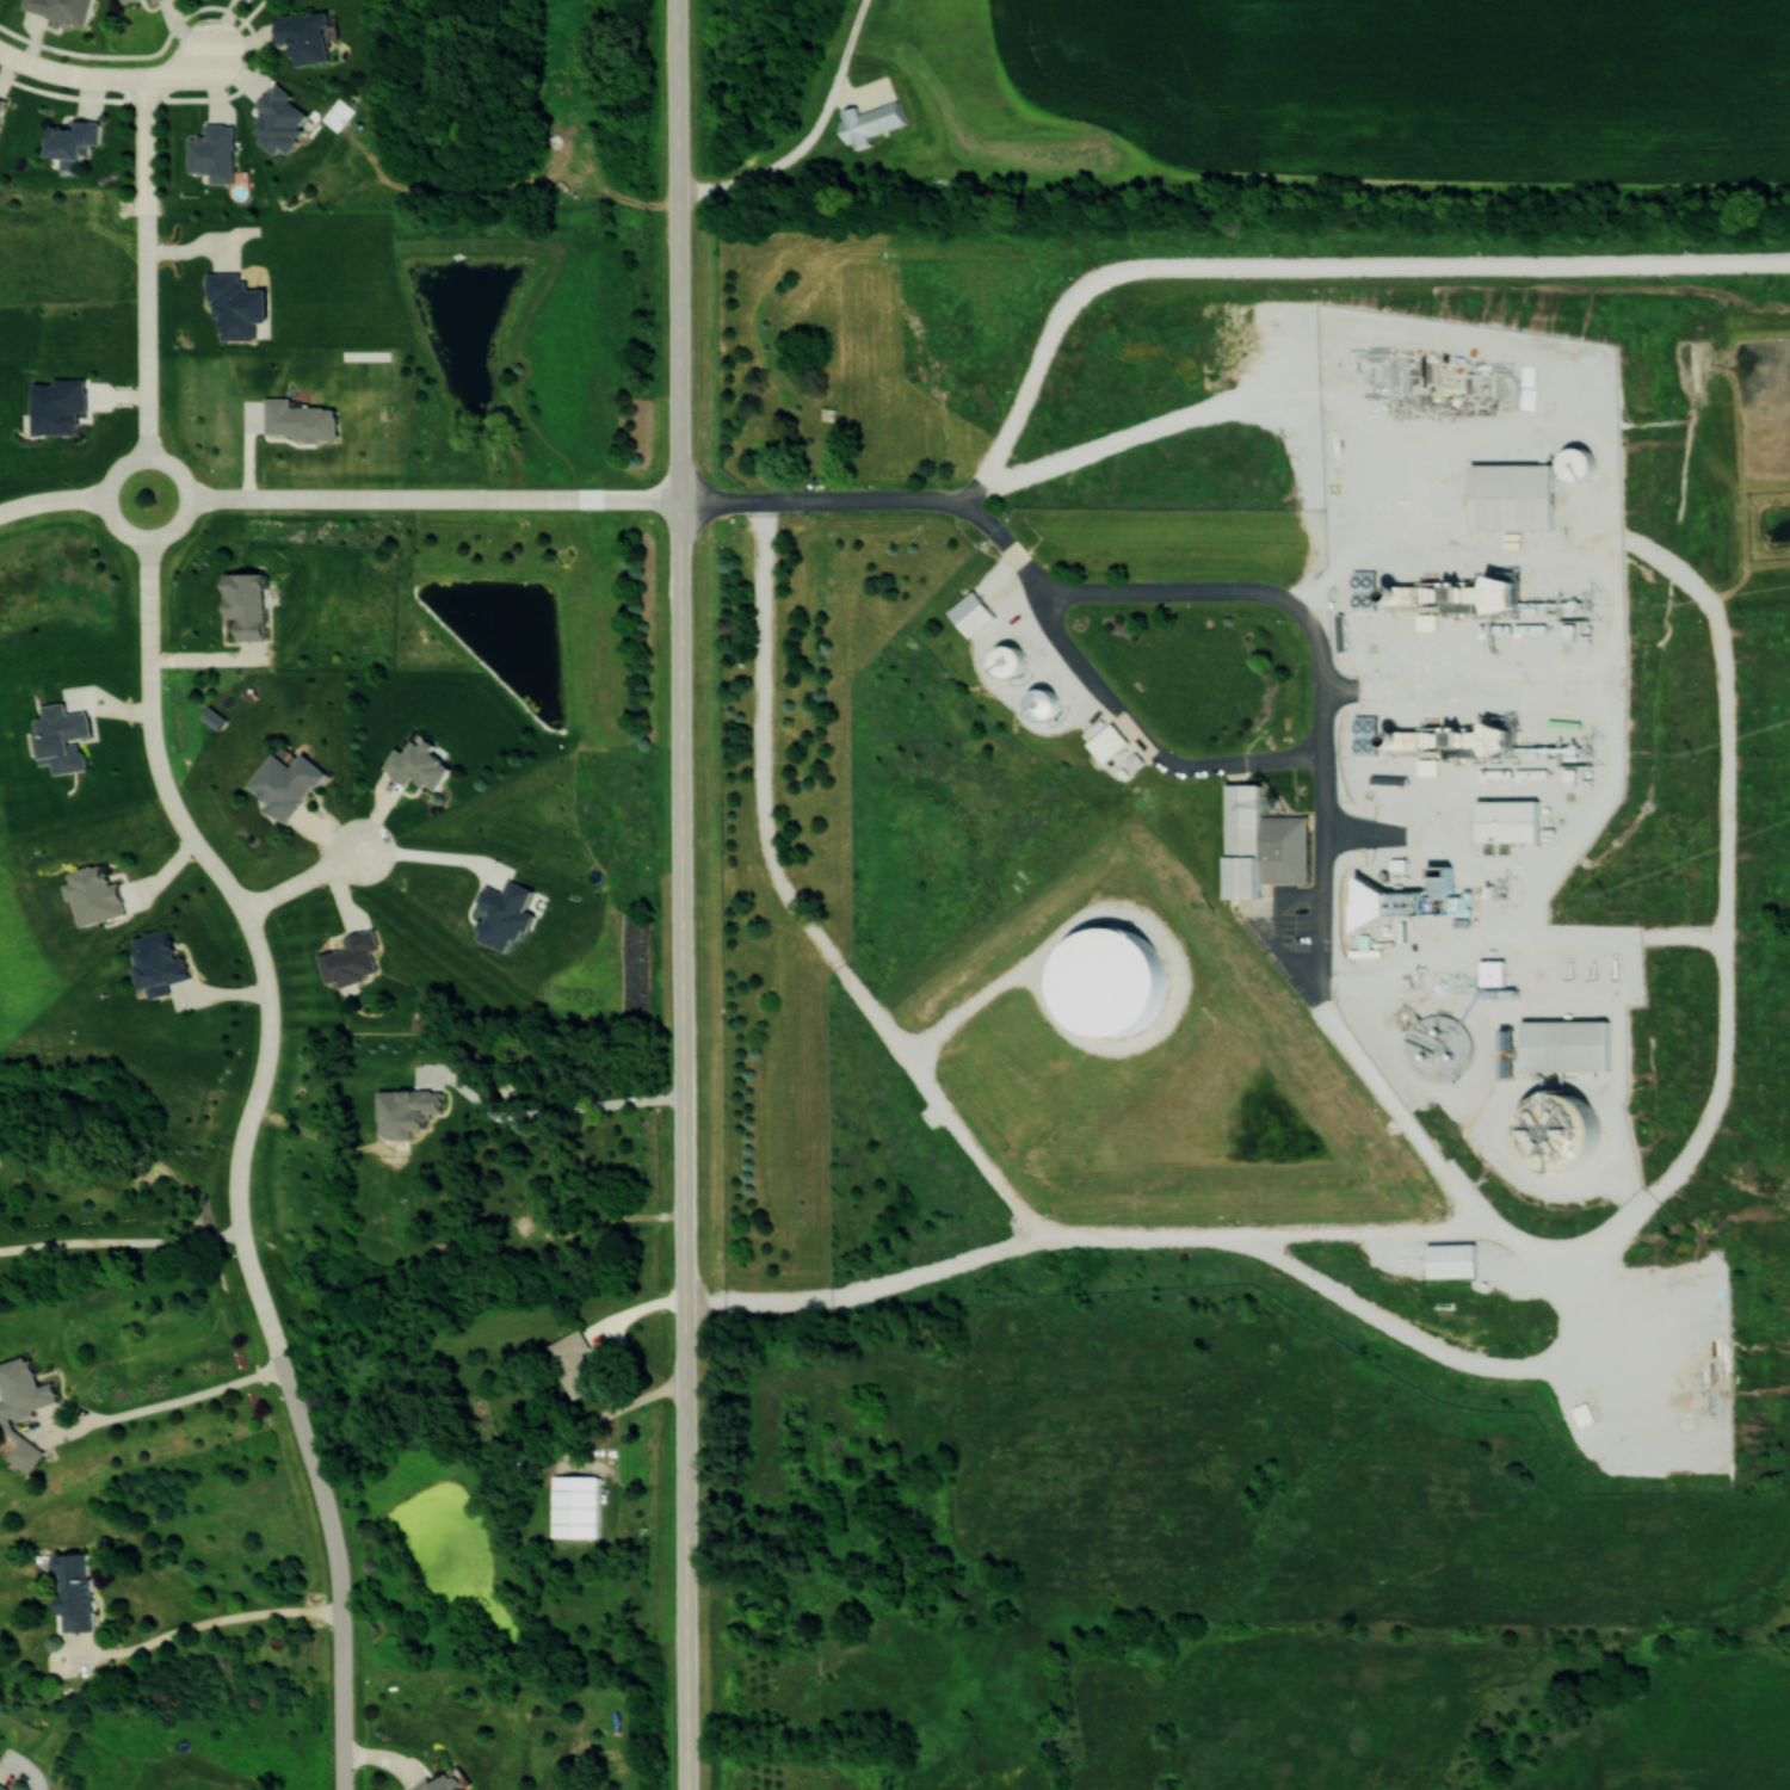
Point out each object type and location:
building: (122, 0)
road: (198, 7)
building: (58, 10)
building: (302, 36)
road: (189, 69)
road: (70, 72)
road: (72, 94)
building: (0, 99)
road: (784, 162)
road: (148, 266)
road: (1315, 266)
building: (234, 305)
road: (1125, 437)
building: (1574, 462)
building: (1511, 495)
road: (53, 496)
road: (436, 496)
road: (147, 537)
road: (1031, 579)
building: (1348, 581)
chimney: (1384, 586)
building: (1498, 593)
power tower: (1594, 603)
building: (970, 613)
road: (210, 660)
building: (1006, 660)
building: (1041, 704)
building: (1351, 726)
chimney: (1387, 735)
building: (1106, 742)
power tower: (1595, 747)
building: (415, 764)
building: (283, 782)
building: (1506, 820)
building: (1260, 844)
road: (444, 857)
chimney: (1420, 865)
road: (314, 875)
power tower: (1510, 889)
road: (684, 894)
building: (1366, 902)
road: (796, 907)
road: (1149, 926)
road: (255, 936)
road: (1518, 936)
building: (1490, 973)
building: (1110, 982)
building: (1506, 1039)
building: (1563, 1045)
road: (549, 1110)
building: (405, 1112)
road: (1631, 1203)
road: (1477, 1211)
road: (1082, 1234)
road: (121, 1241)
building: (1450, 1261)
road: (1384, 1323)
building: (573, 1364)
building: (21, 1390)
road: (168, 1402)
building: (574, 1506)
road: (338, 1566)
building: (72, 1591)
road: (206, 1624)
road: (30, 1772)
building: (438, 1782)
building: (2, 1788)

